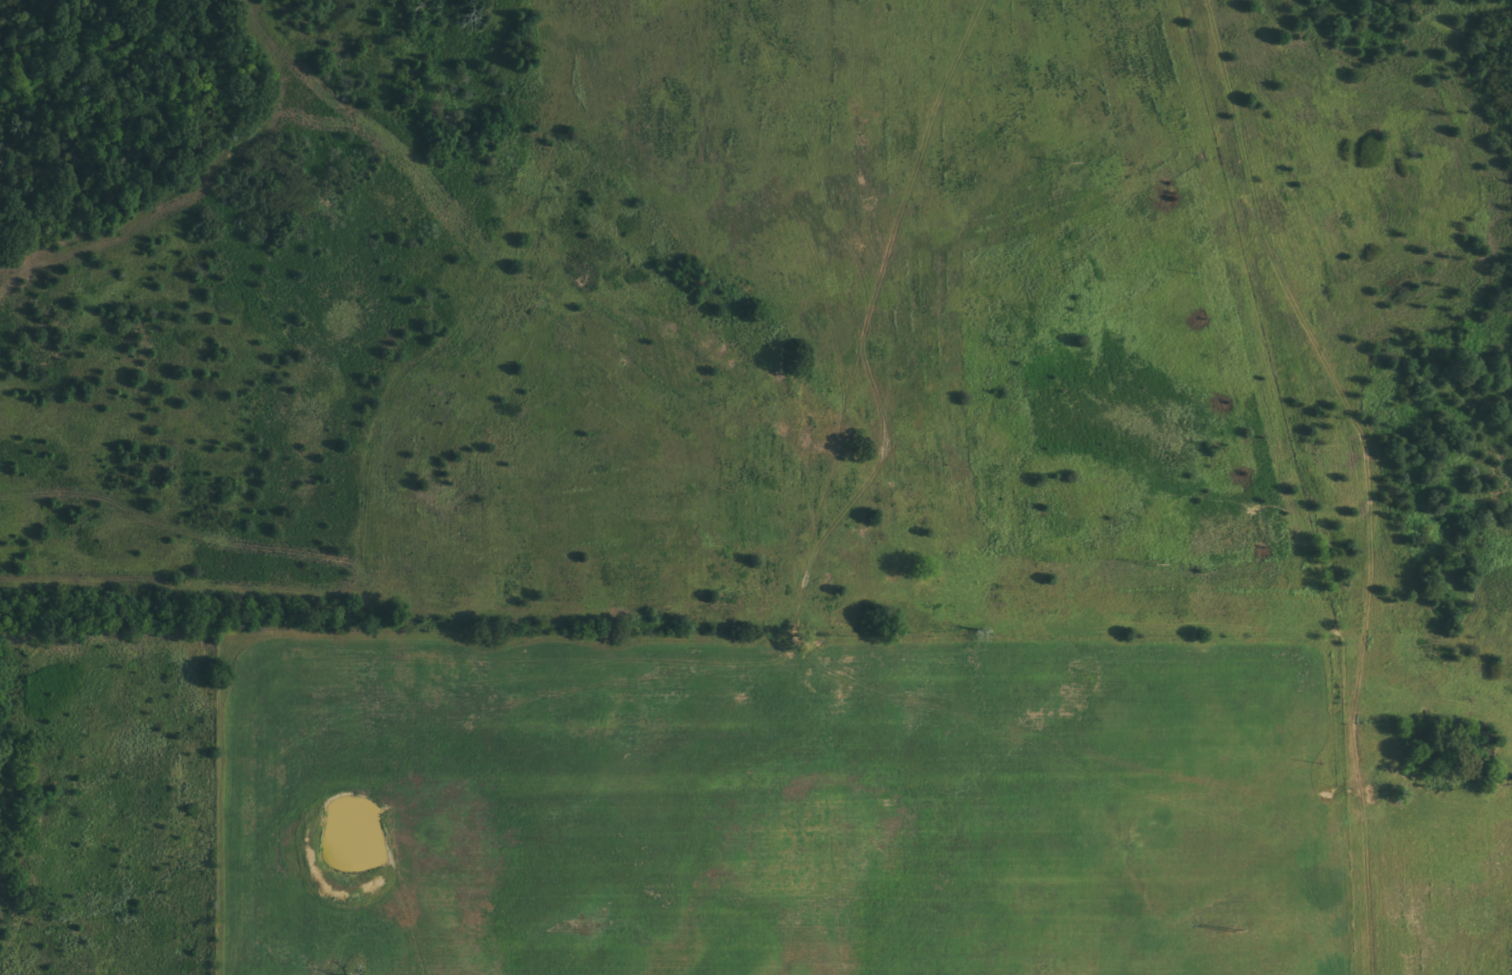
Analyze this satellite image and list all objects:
power tower: (1066, 162)
power tower: (1148, 561)
power tower: (1228, 928)

